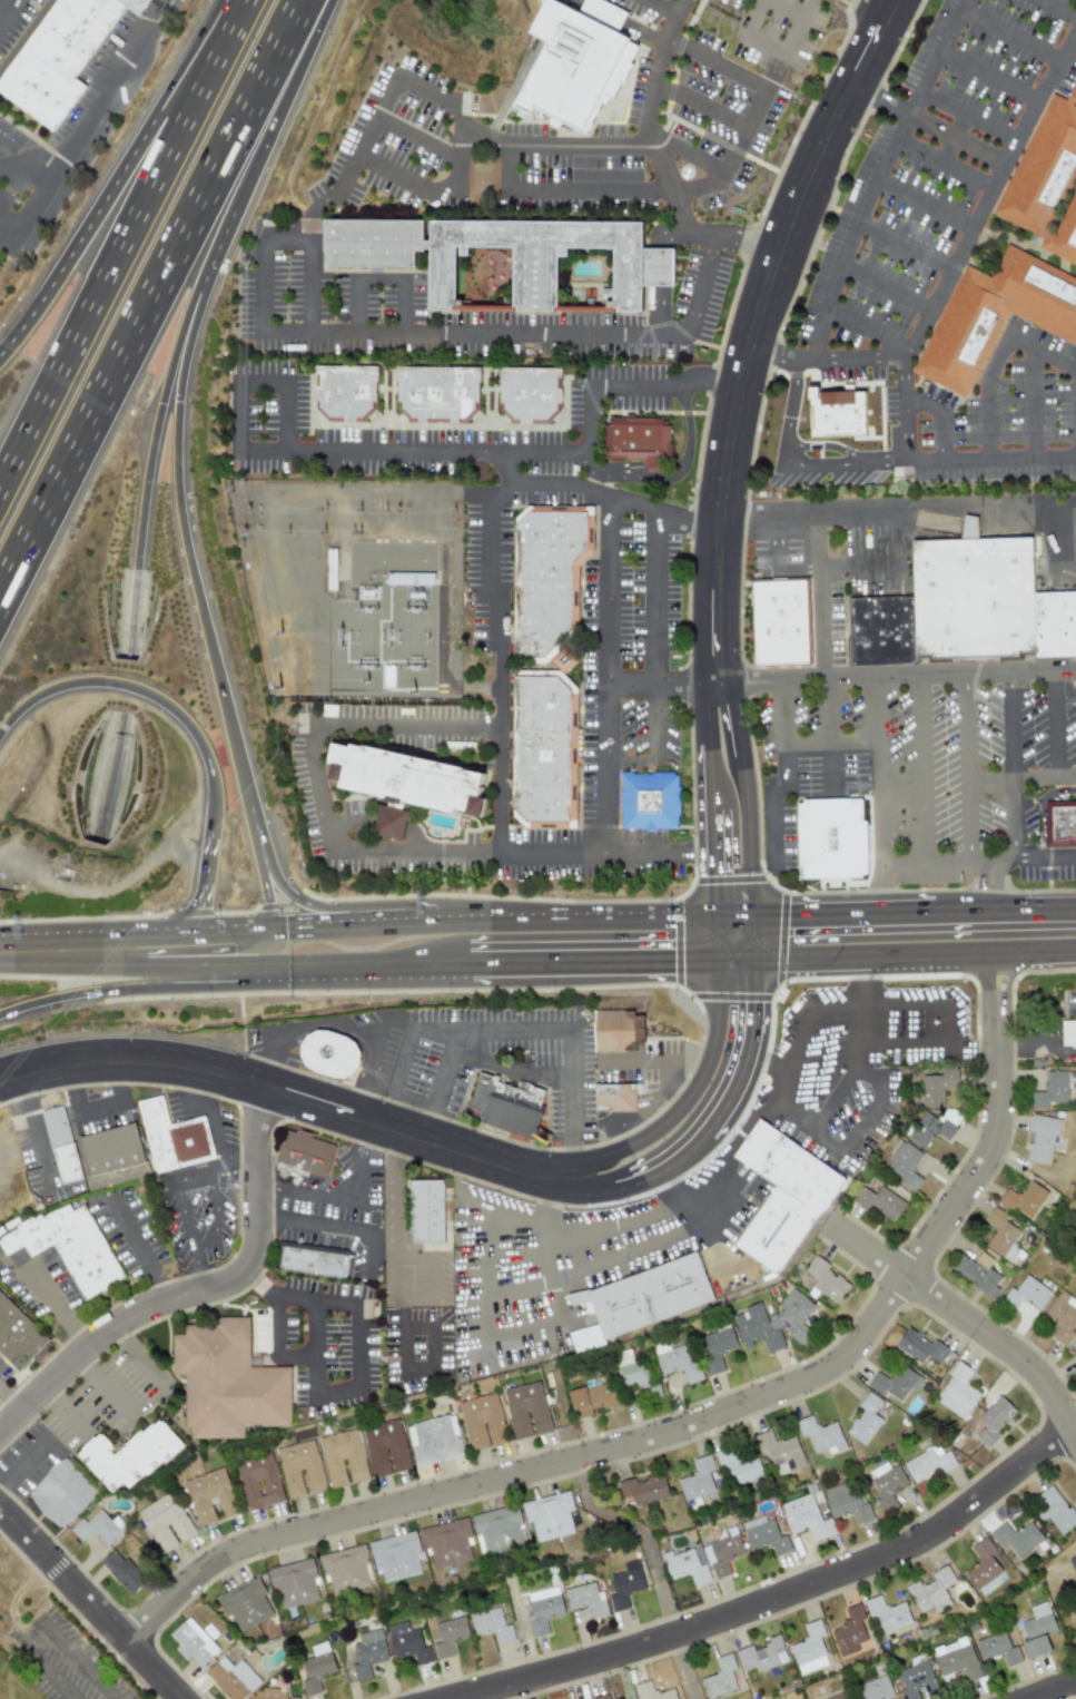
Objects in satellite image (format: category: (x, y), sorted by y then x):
road: (4, 0)
road: (2, 4)
road: (662, 7)
road: (784, 9)
road: (1056, 9)
road: (155, 17)
road: (753, 18)
road: (621, 20)
road: (671, 20)
road: (859, 30)
road: (1010, 32)
parking lot: (782, 36)
road: (792, 36)
road: (764, 47)
building: (67, 59)
building: (575, 61)
road: (723, 69)
road: (988, 76)
road: (399, 79)
road: (699, 105)
road: (967, 117)
road: (929, 125)
road: (646, 131)
road: (81, 134)
road: (415, 136)
road: (624, 143)
road: (942, 164)
building: (1050, 167)
road: (23, 171)
road: (876, 175)
road: (126, 180)
road: (336, 190)
road: (535, 193)
road: (924, 203)
road: (9, 227)
road: (308, 228)
road: (733, 237)
building: (1070, 237)
road: (966, 238)
road: (286, 239)
road: (902, 244)
road: (128, 251)
road: (660, 276)
road: (378, 278)
building: (654, 279)
road: (261, 285)
road: (309, 286)
road: (885, 286)
building: (1040, 301)
road: (155, 302)
road: (355, 306)
road: (403, 306)
road: (757, 328)
road: (867, 328)
road: (525, 334)
building: (960, 336)
traffic signals: (178, 341)
road: (1042, 353)
road: (828, 357)
road: (263, 382)
road: (665, 385)
road: (985, 395)
building: (352, 396)
building: (444, 397)
building: (536, 397)
traffic signals: (160, 404)
road: (1034, 404)
building: (836, 413)
road: (239, 415)
road: (286, 415)
road: (939, 419)
road: (588, 420)
building: (644, 441)
road: (151, 443)
road: (828, 446)
road: (687, 448)
road: (413, 451)
road: (991, 459)
road: (794, 467)
road: (504, 469)
road: (611, 472)
road: (176, 482)
road: (618, 498)
road: (898, 507)
road: (1054, 534)
power tower: (358, 536)
road: (778, 558)
road: (886, 566)
building: (555, 581)
power substation: (355, 586)
road: (819, 593)
building: (973, 596)
road: (657, 598)
building: (1055, 620)
building: (787, 627)
building: (880, 629)
power tower: (337, 644)
road: (497, 658)
road: (606, 675)
power tower: (335, 676)
road: (841, 678)
road: (147, 694)
road: (702, 713)
road: (1053, 724)
road: (829, 733)
road: (832, 745)
road: (658, 746)
building: (551, 754)
road: (1011, 765)
road: (964, 766)
road: (922, 768)
road: (702, 776)
road: (109, 777)
road: (784, 777)
road: (1044, 778)
building: (411, 780)
road: (988, 782)
road: (317, 783)
road: (756, 788)
road: (881, 788)
building: (654, 805)
road: (1040, 807)
building: (1060, 823)
building: (839, 844)
road: (601, 855)
road: (707, 856)
road: (979, 861)
traffic signals: (707, 872)
road: (260, 874)
road: (206, 877)
road: (991, 880)
road: (1017, 896)
road: (858, 902)
road: (732, 905)
traffic signals: (796, 905)
road: (572, 906)
road: (403, 911)
road: (319, 915)
traffic signals: (269, 917)
traffic signals: (195, 920)
road: (134, 921)
road: (708, 940)
road: (235, 953)
road: (916, 968)
road: (732, 973)
road: (72, 974)
road: (591, 975)
traffic signals: (669, 975)
road: (167, 976)
road: (214, 980)
road: (355, 980)
road: (117, 994)
traffic signals: (756, 1006)
road: (392, 1023)
road: (945, 1027)
road: (339, 1028)
building: (618, 1030)
road: (516, 1031)
building: (1068, 1033)
building: (329, 1054)
road: (630, 1060)
road: (769, 1061)
road: (513, 1070)
road: (441, 1084)
road: (677, 1087)
building: (937, 1087)
building: (1050, 1089)
road: (838, 1090)
road: (733, 1092)
road: (398, 1096)
road: (295, 1097)
road: (681, 1097)
building: (613, 1098)
building: (506, 1104)
road: (99, 1111)
road: (865, 1121)
building: (934, 1127)
road: (37, 1135)
road: (741, 1135)
building: (172, 1138)
building: (1042, 1138)
building: (60, 1145)
road: (223, 1149)
building: (110, 1150)
building: (304, 1152)
building: (905, 1165)
road: (243, 1166)
building: (781, 1196)
road: (684, 1199)
building: (1024, 1199)
road: (349, 1200)
building: (880, 1204)
building: (425, 1210)
road: (219, 1218)
road: (487, 1219)
road: (328, 1228)
building: (1000, 1232)
road: (190, 1235)
road: (397, 1245)
building: (67, 1246)
road: (138, 1247)
road: (367, 1253)
building: (313, 1260)
building: (976, 1273)
road: (575, 1274)
building: (826, 1280)
road: (196, 1293)
building: (1026, 1294)
building: (642, 1297)
road: (55, 1308)
building: (793, 1315)
road: (560, 1317)
building: (1062, 1317)
road: (967, 1323)
building: (757, 1329)
building: (17, 1336)
road: (275, 1345)
building: (918, 1345)
building: (715, 1347)
road: (356, 1356)
building: (1074, 1358)
road: (139, 1361)
building: (675, 1361)
building: (634, 1374)
building: (226, 1381)
road: (111, 1383)
building: (896, 1383)
building: (957, 1392)
building: (591, 1400)
road: (9, 1405)
building: (526, 1410)
road: (66, 1416)
building: (865, 1420)
building: (993, 1420)
building: (481, 1422)
road: (687, 1426)
building: (820, 1435)
building: (433, 1440)
building: (385, 1447)
building: (780, 1452)
building: (128, 1455)
building: (342, 1457)
building: (928, 1463)
building: (738, 1467)
building: (299, 1469)
road: (24, 1471)
building: (698, 1479)
building: (258, 1481)
building: (886, 1484)
building: (642, 1489)
building: (61, 1494)
building: (209, 1495)
building: (846, 1501)
building: (1055, 1510)
building: (549, 1516)
building: (806, 1516)
building: (165, 1522)
building: (98, 1528)
building: (497, 1529)
road: (640, 1533)
building: (764, 1535)
building: (1016, 1536)
building: (446, 1543)
building: (722, 1552)
building: (395, 1555)
building: (1073, 1564)
building: (687, 1565)
building: (345, 1570)
building: (121, 1572)
building: (294, 1583)
building: (624, 1584)
building: (931, 1590)
road: (779, 1597)
building: (586, 1600)
building: (245, 1603)
road: (91, 1604)
building: (543, 1609)
building: (887, 1613)
road: (45, 1623)
building: (491, 1624)
building: (1037, 1630)
building: (849, 1631)
building: (448, 1636)
building: (191, 1642)
building: (406, 1642)
building: (997, 1648)
building: (809, 1649)
building: (367, 1652)
building: (762, 1654)
building: (956, 1659)
road: (683, 1667)
building: (315, 1668)
building: (233, 1678)
building: (719, 1678)
building: (916, 1680)
building: (873, 1689)
road: (1054, 1690)
building: (651, 1691)
building: (267, 1695)
building: (839, 1696)
building: (601, 1697)

